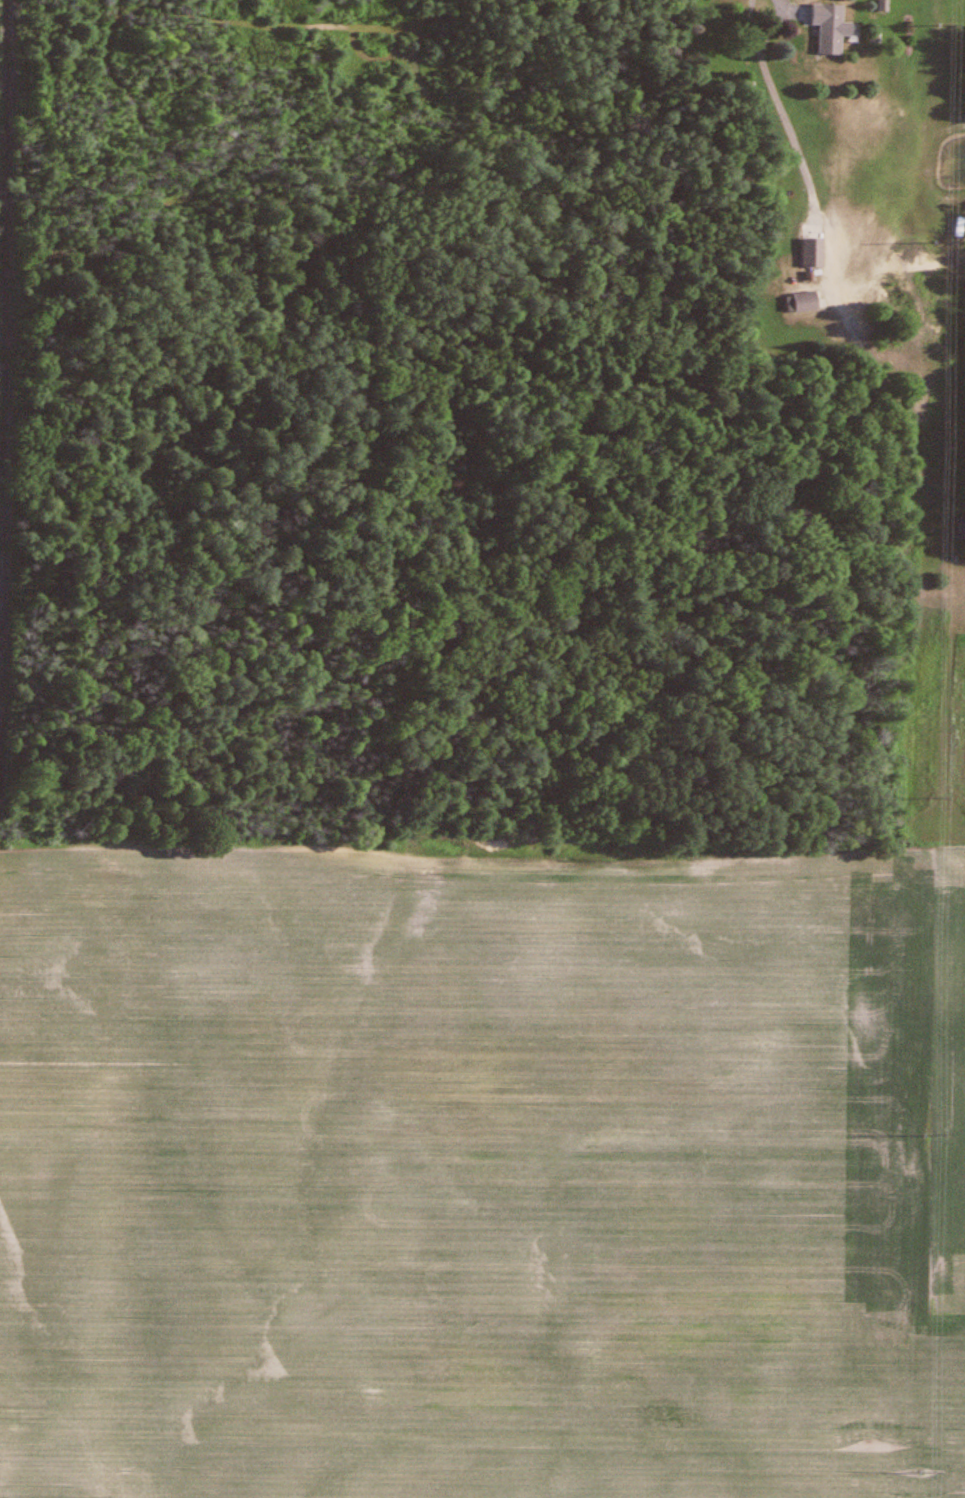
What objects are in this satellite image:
building: (828, 29)
building: (812, 254)
building: (801, 303)

